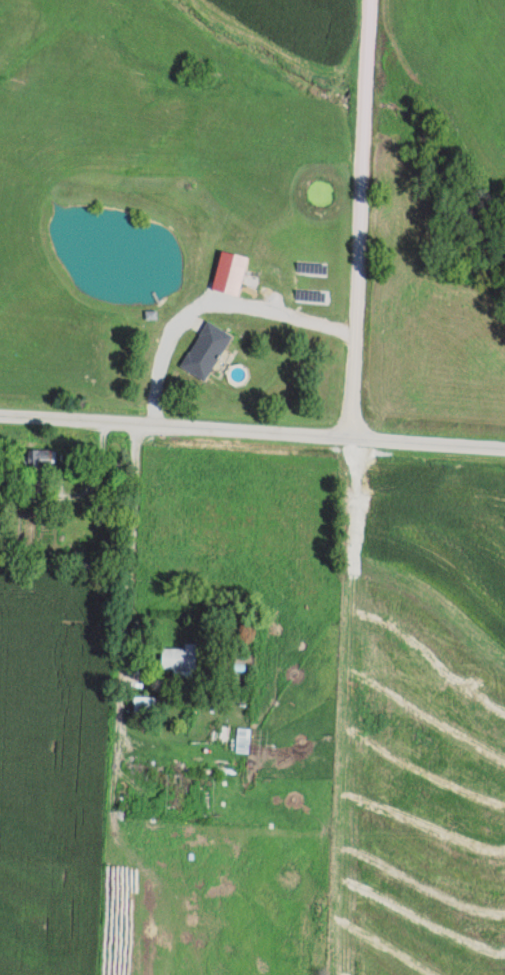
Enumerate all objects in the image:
road: (359, 218)
building: (234, 272)
building: (211, 350)
road: (150, 414)
road: (252, 431)
building: (48, 458)
building: (184, 658)
building: (145, 704)
building: (245, 740)
building: (211, 760)
building: (145, 782)

